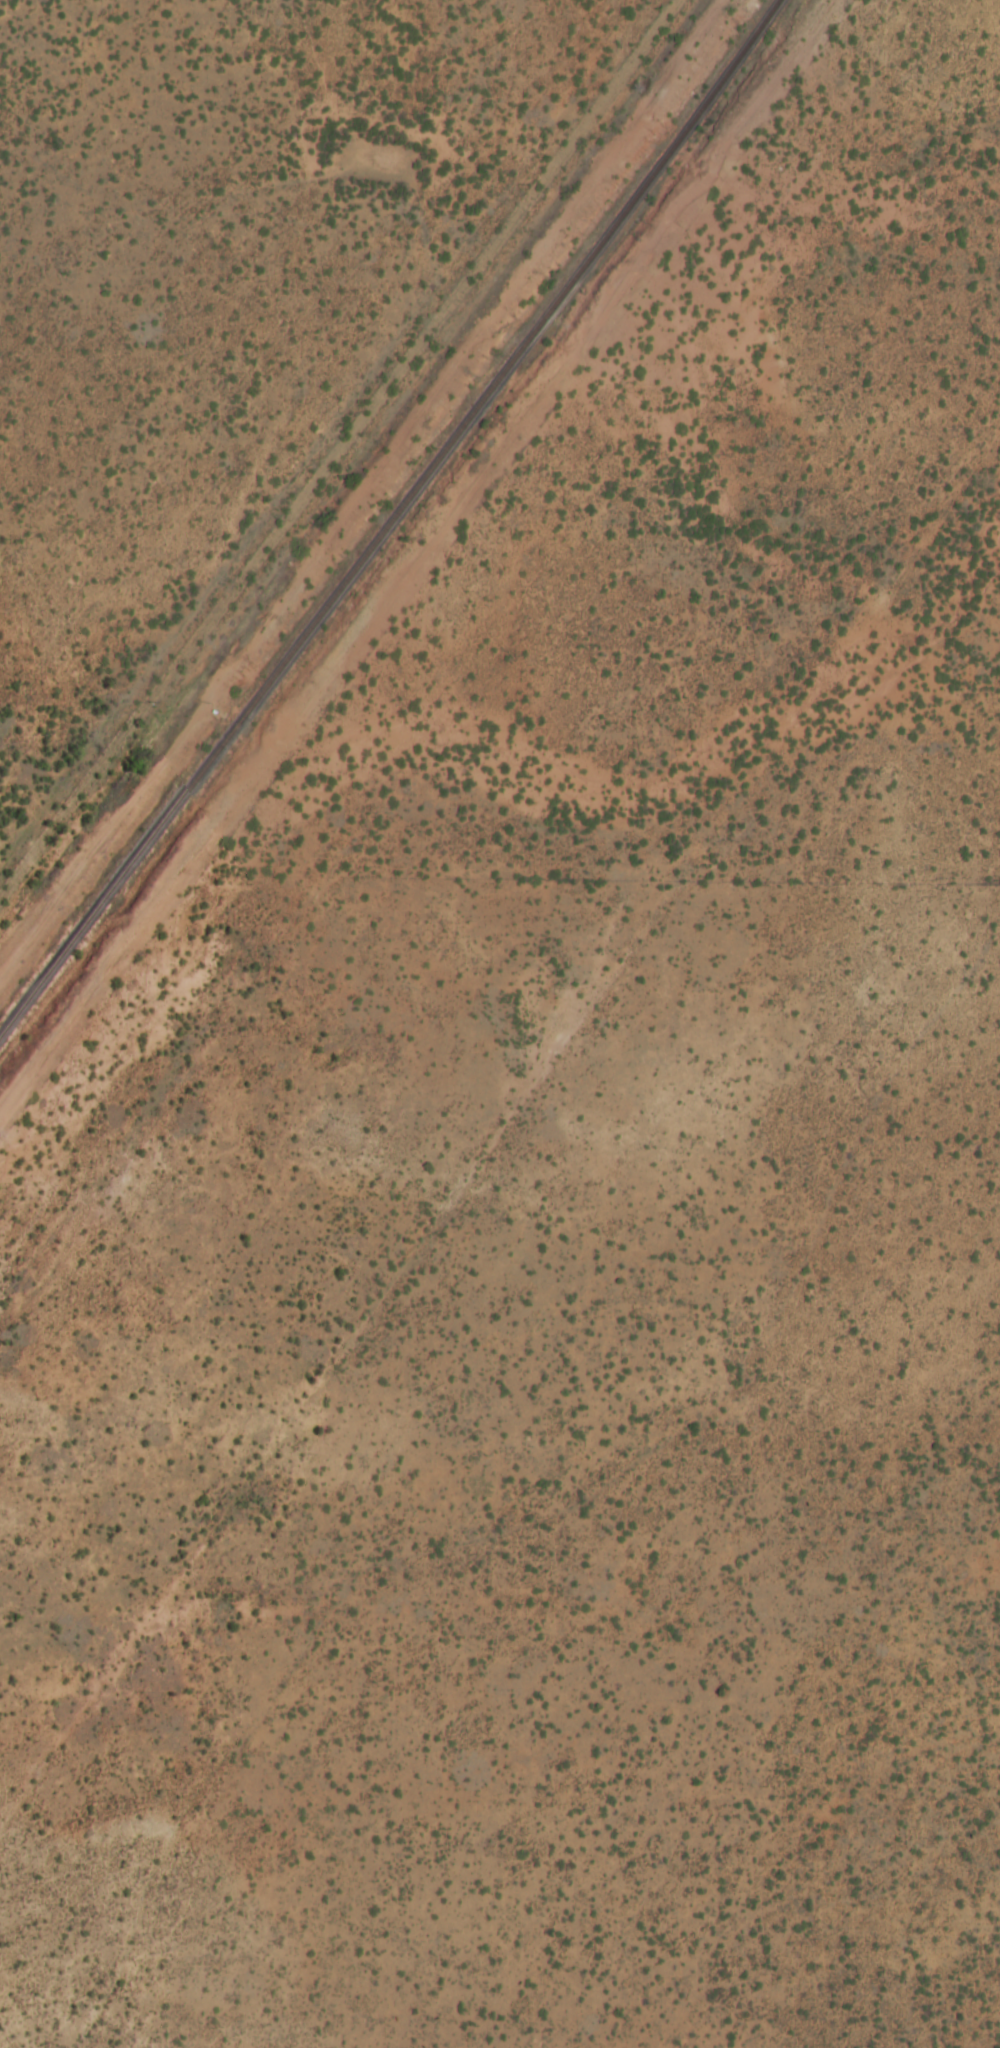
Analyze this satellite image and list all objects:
road: (331, 446)
railway: (420, 479)
railway: (30, 994)

